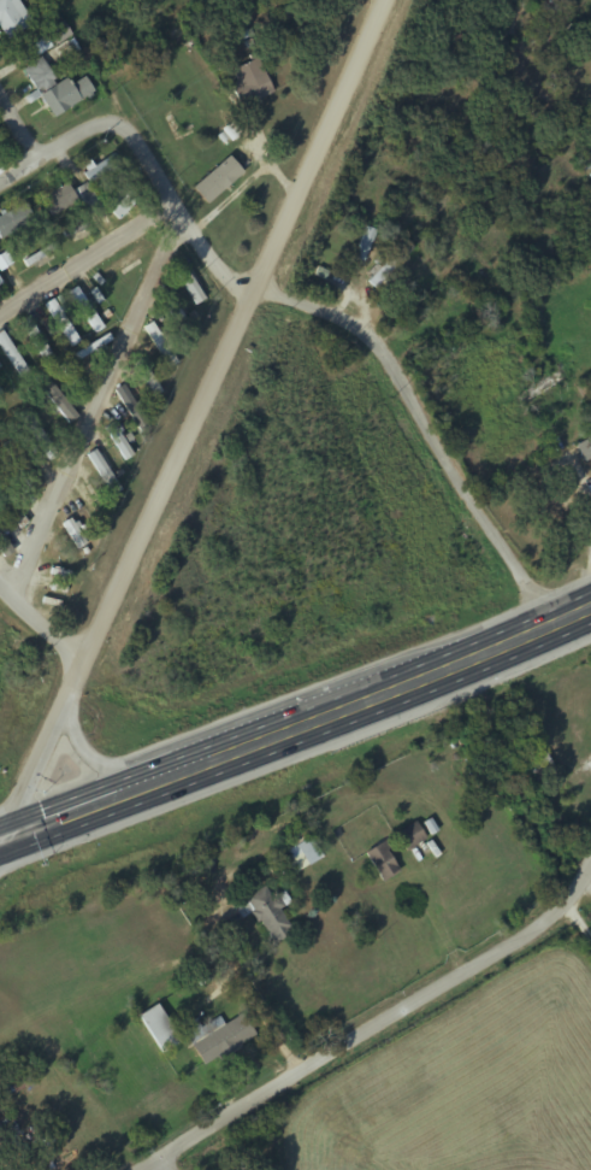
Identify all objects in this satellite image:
building: (11, 18)
building: (58, 34)
building: (249, 82)
building: (55, 88)
road: (20, 128)
road: (57, 152)
building: (217, 180)
building: (57, 199)
building: (119, 201)
building: (14, 221)
building: (364, 247)
road: (87, 257)
building: (123, 263)
building: (389, 265)
building: (188, 284)
building: (0, 286)
building: (85, 311)
building: (176, 319)
building: (60, 323)
road: (370, 331)
building: (159, 343)
building: (91, 347)
building: (146, 377)
building: (71, 380)
building: (0, 393)
building: (54, 398)
road: (94, 405)
building: (130, 408)
road: (196, 419)
building: (36, 434)
building: (117, 441)
building: (584, 447)
building: (20, 465)
building: (102, 472)
building: (88, 504)
building: (73, 533)
building: (4, 547)
road: (40, 621)
road: (297, 724)
road: (224, 728)
building: (540, 768)
building: (410, 836)
road: (1, 837)
traffic signals: (2, 837)
road: (1, 840)
building: (299, 853)
building: (265, 915)
road: (584, 921)
building: (159, 1028)
road: (377, 1028)
building: (219, 1036)
building: (12, 1077)
road: (165, 1163)

